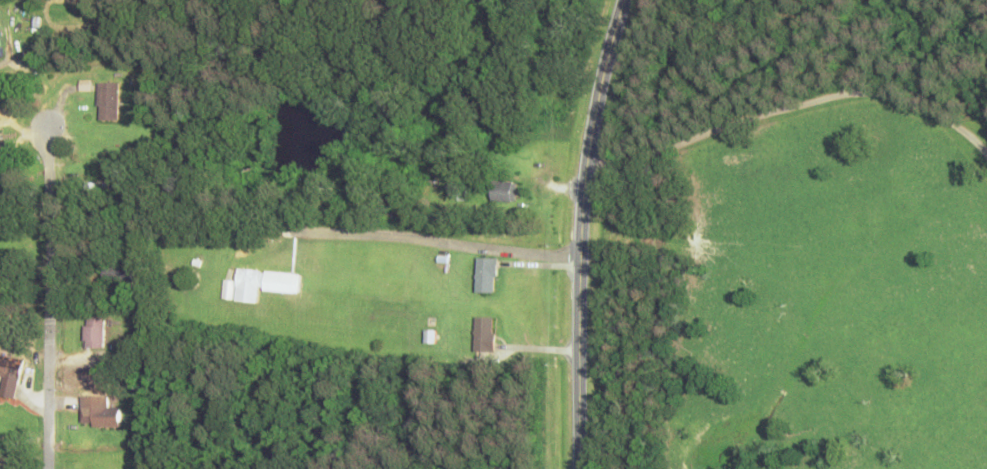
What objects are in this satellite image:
building: (108, 104)
building: (502, 194)
road: (580, 232)
building: (116, 274)
building: (485, 278)
building: (263, 286)
road: (47, 298)
building: (95, 334)
building: (483, 336)
building: (9, 377)
building: (98, 412)

